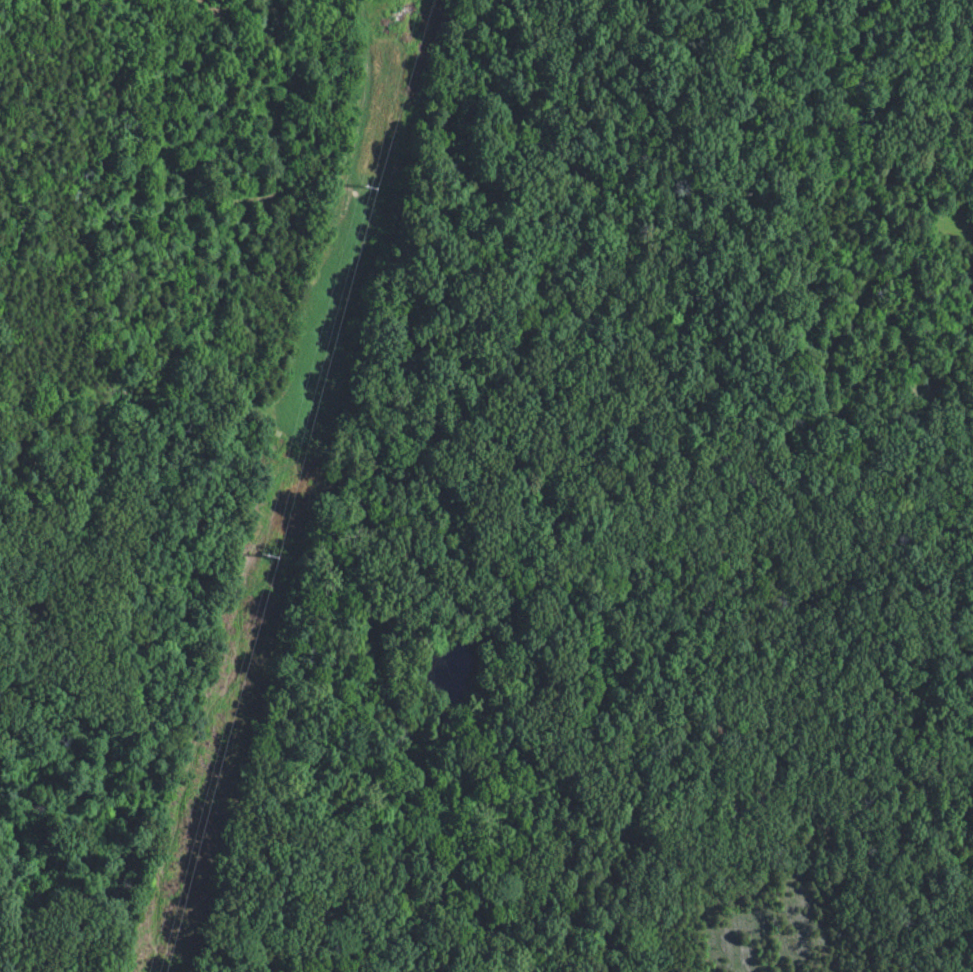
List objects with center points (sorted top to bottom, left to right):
power tower: (363, 181)
power tower: (262, 554)

